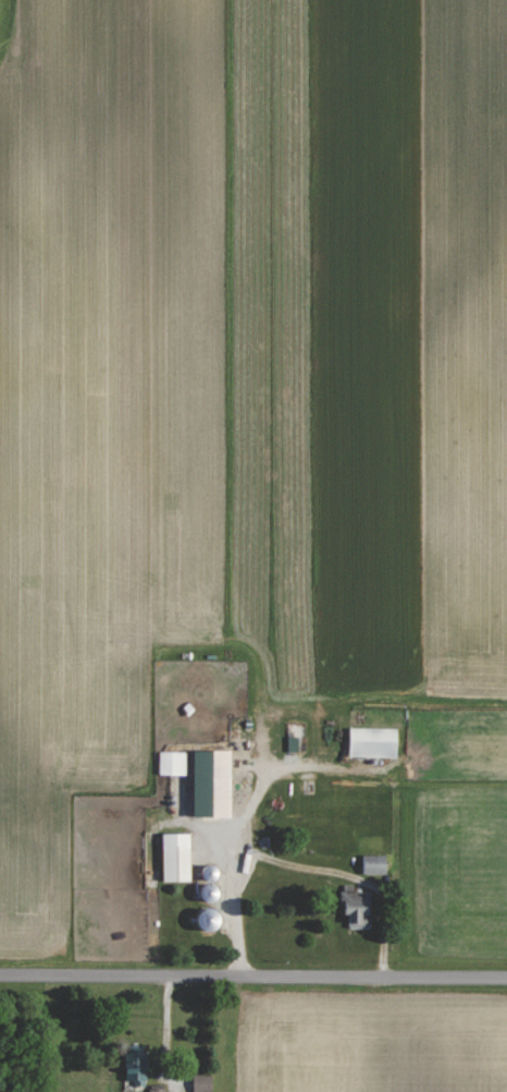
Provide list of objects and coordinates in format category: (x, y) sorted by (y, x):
building: (374, 742)
building: (173, 763)
building: (214, 785)
building: (178, 858)
building: (375, 864)
road: (233, 870)
building: (358, 907)
road: (252, 976)
building: (137, 1067)
building: (205, 1083)
building: (158, 1090)

